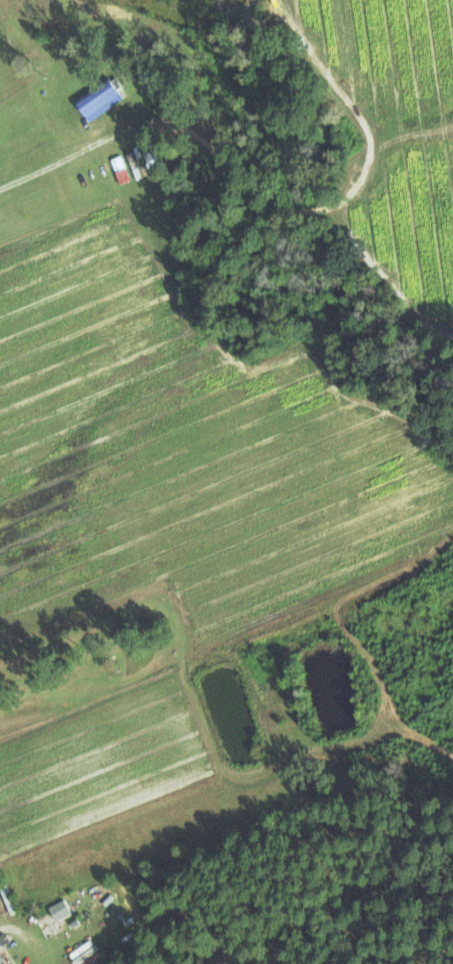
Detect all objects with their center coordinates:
building: (99, 99)
road: (47, 168)
building: (7, 896)
building: (58, 909)
building: (87, 953)
building: (1, 960)

